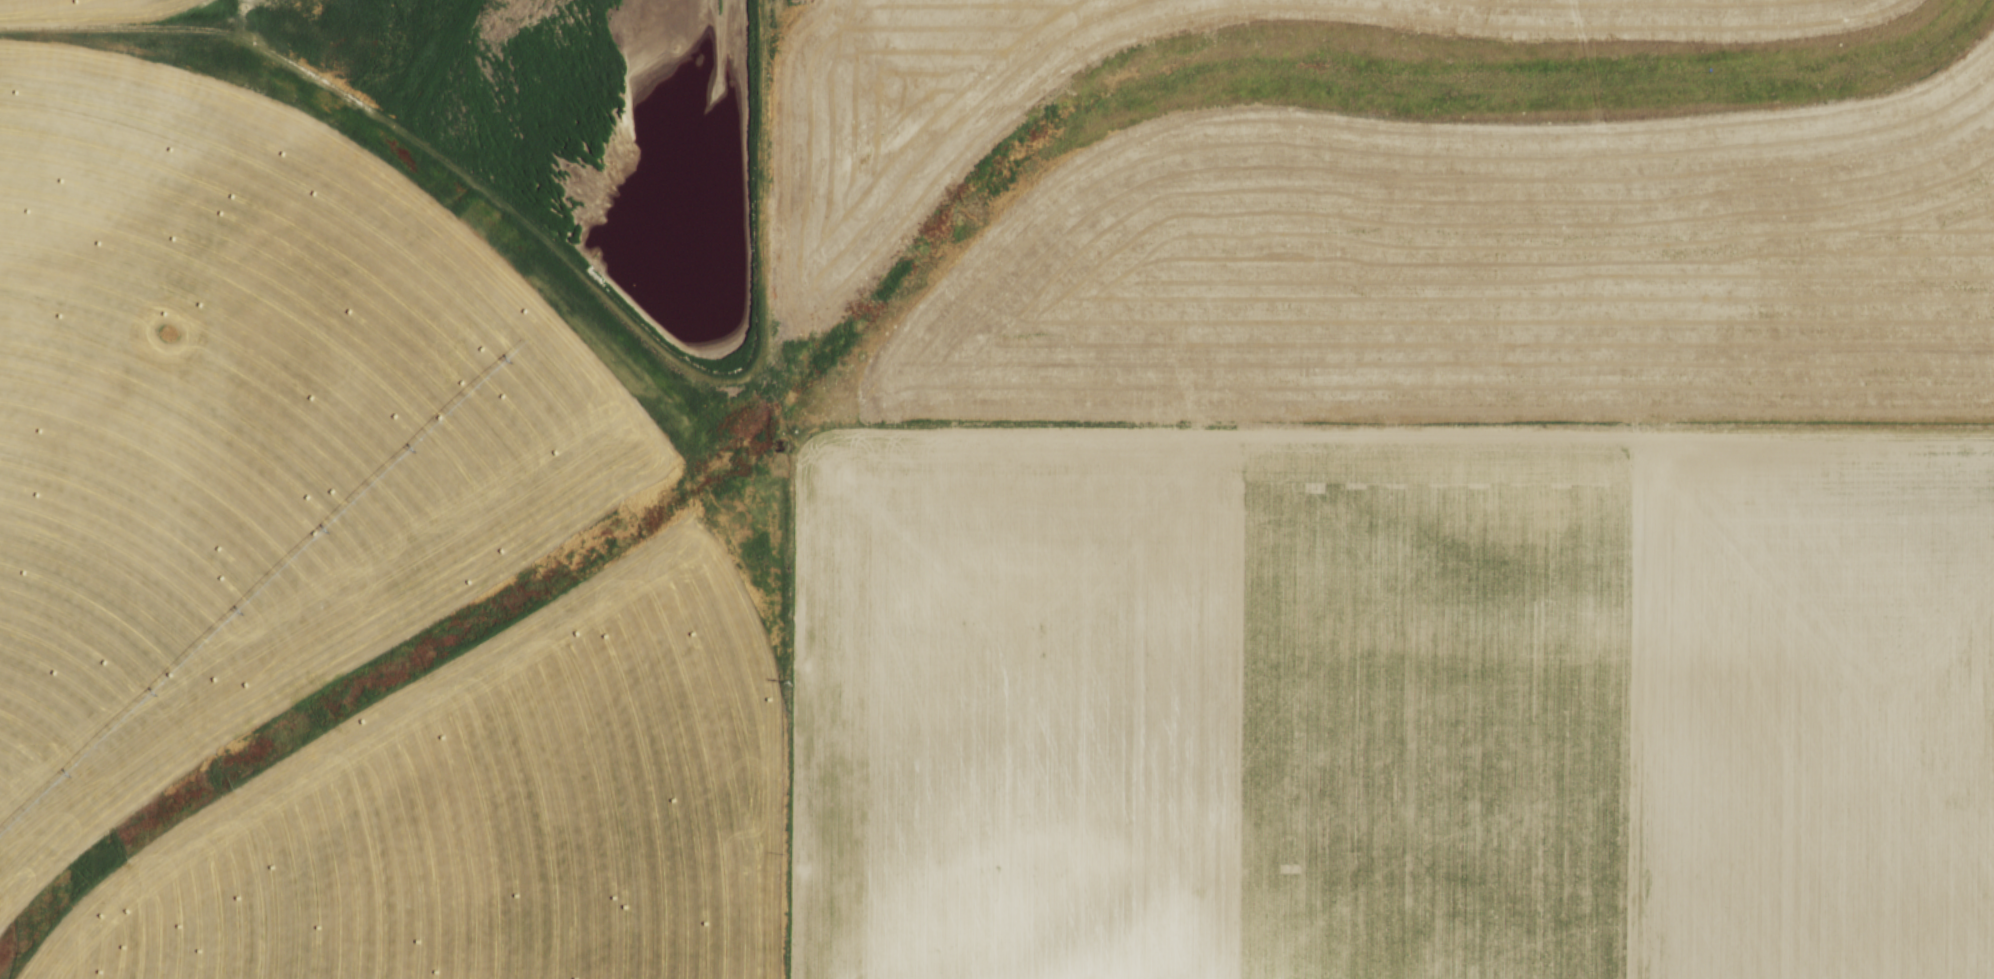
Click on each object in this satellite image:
crop: (846, 208)
crop: (341, 541)
crop: (1420, 564)

